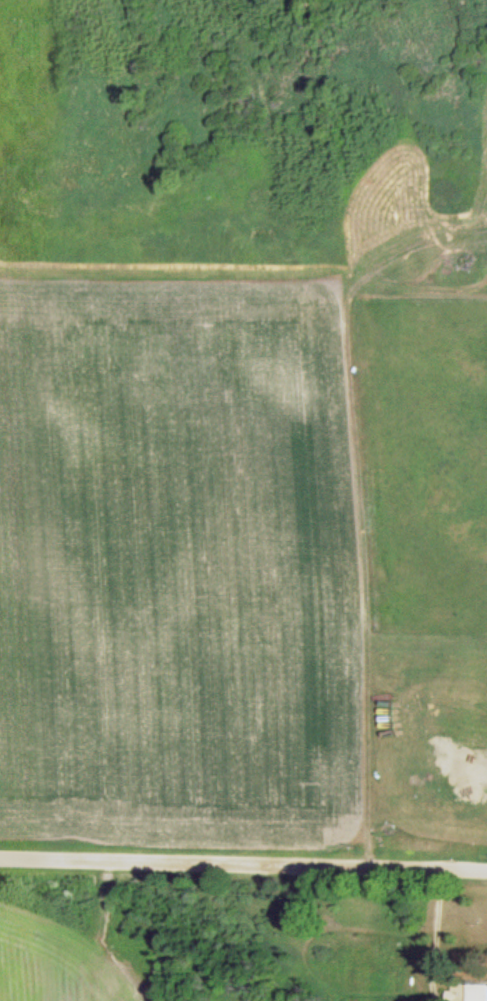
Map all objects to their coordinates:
road: (243, 863)
building: (468, 992)

